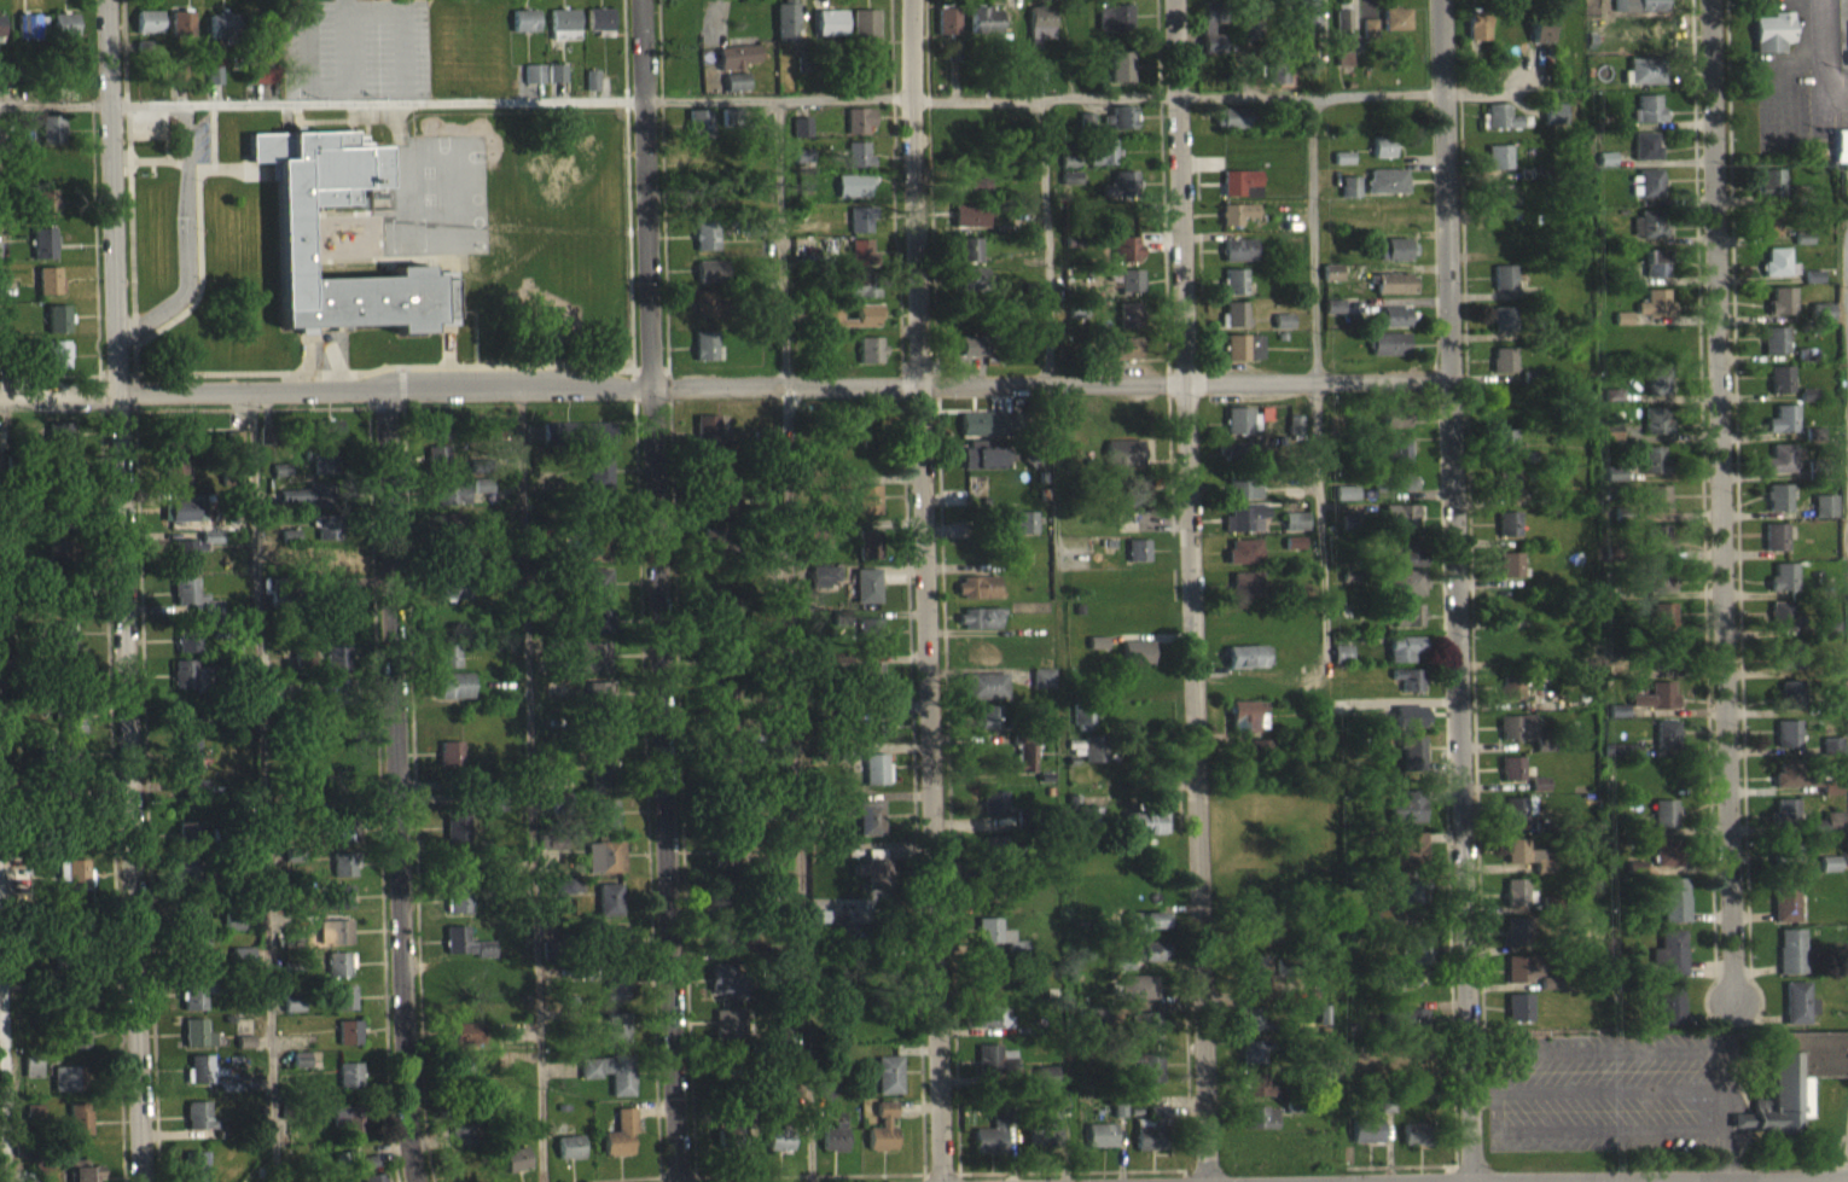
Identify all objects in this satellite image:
building: (1640, 12)
building: (1307, 27)
road: (400, 28)
building: (1118, 28)
building: (1395, 29)
building: (785, 30)
building: (984, 30)
building: (147, 31)
building: (524, 31)
building: (599, 31)
building: (947, 31)
building: (1041, 31)
building: (180, 33)
building: (830, 33)
building: (1248, 33)
building: (564, 34)
building: (63, 35)
building: (865, 35)
building: (0, 36)
building: (221, 36)
building: (1476, 36)
building: (29, 37)
building: (1211, 37)
building: (1368, 39)
building: (1539, 40)
building: (1772, 42)
building: (1343, 46)
parking lot: (353, 59)
building: (952, 62)
building: (737, 66)
building: (1121, 77)
building: (1278, 81)
building: (1644, 81)
building: (556, 83)
building: (178, 85)
building: (262, 85)
building: (533, 85)
building: (213, 86)
road: (325, 87)
building: (592, 91)
building: (736, 92)
road: (1176, 94)
road: (777, 98)
road: (53, 103)
road: (348, 120)
building: (1647, 120)
road: (296, 122)
building: (1552, 126)
road: (348, 127)
building: (1500, 127)
building: (1123, 128)
building: (1230, 128)
road: (327, 130)
parking lot: (147, 132)
building: (859, 132)
road: (296, 134)
building: (697, 134)
road: (211, 135)
building: (802, 138)
building: (51, 139)
parking lot: (198, 151)
building: (1382, 157)
building: (1645, 157)
building: (1841, 157)
road: (163, 158)
building: (1104, 163)
building: (859, 165)
building: (1498, 167)
road: (234, 168)
building: (1342, 168)
road: (129, 171)
building: (1387, 191)
building: (1238, 192)
building: (1769, 193)
building: (1646, 194)
building: (854, 196)
building: (1121, 196)
building: (967, 197)
building: (1349, 197)
road: (185, 202)
building: (1250, 202)
building: (1500, 206)
road: (197, 208)
building: (45, 212)
building: (1236, 223)
building: (970, 226)
building: (861, 231)
building: (1768, 233)
building: (1649, 235)
building: (705, 245)
building: (289, 246)
road: (779, 248)
road: (1045, 248)
building: (1802, 248)
building: (43, 254)
road: (198, 254)
building: (966, 260)
building: (1238, 260)
building: (1397, 260)
building: (1122, 261)
building: (861, 262)
road: (1847, 270)
building: (1778, 273)
building: (1656, 274)
building: (710, 283)
building: (1331, 283)
building: (1812, 286)
building: (1504, 287)
building: (969, 290)
building: (48, 291)
building: (1128, 292)
building: (1234, 292)
building: (1394, 293)
building: (862, 295)
road: (182, 311)
building: (1780, 313)
building: (705, 314)
building: (1655, 314)
building: (1332, 316)
building: (866, 322)
building: (1129, 325)
building: (1236, 325)
building: (1395, 326)
building: (1622, 328)
building: (57, 330)
building: (1501, 330)
building: (1283, 331)
building: (1774, 351)
building: (704, 355)
building: (1388, 355)
building: (967, 356)
building: (1243, 357)
road: (134, 359)
building: (1122, 359)
building: (870, 360)
building: (57, 365)
building: (1503, 369)
road: (117, 374)
road: (574, 375)
road: (667, 379)
road: (1314, 382)
building: (1780, 390)
road: (99, 391)
road: (134, 391)
building: (1658, 391)
road: (721, 397)
building: (1807, 404)
road: (117, 408)
building: (1394, 427)
building: (1783, 430)
building: (1242, 431)
building: (1657, 431)
building: (988, 433)
building: (436, 438)
building: (331, 441)
building: (550, 441)
building: (708, 442)
building: (179, 444)
building: (595, 444)
building: (59, 446)
building: (266, 446)
building: (1505, 450)
building: (978, 454)
building: (1236, 461)
building: (1399, 462)
building: (1123, 464)
building: (436, 467)
building: (982, 468)
building: (1780, 470)
building: (1652, 471)
building: (322, 473)
building: (711, 478)
building: (174, 481)
building: (599, 483)
building: (1614, 484)
building: (545, 487)
building: (842, 493)
building: (1507, 493)
building: (1401, 494)
building: (481, 496)
building: (1244, 497)
building: (1135, 500)
building: (449, 502)
building: (1346, 503)
building: (306, 506)
building: (1778, 508)
building: (867, 510)
building: (1658, 510)
road: (1731, 512)
building: (714, 516)
building: (1824, 517)
building: (186, 519)
building: (1400, 526)
building: (60, 528)
building: (1244, 529)
building: (1022, 531)
building: (1295, 531)
building: (1507, 534)
building: (326, 537)
building: (821, 543)
building: (1776, 547)
building: (1658, 549)
building: (715, 551)
building: (1294, 553)
building: (867, 554)
building: (597, 555)
building: (1138, 560)
building: (58, 563)
building: (1243, 563)
building: (1402, 564)
building: (324, 571)
building: (1510, 575)
building: (820, 587)
building: (1660, 588)
building: (1783, 588)
road: (122, 590)
road: (657, 590)
road: (920, 590)
road: (1189, 590)
road: (1449, 590)
building: (1406, 593)
building: (1245, 594)
building: (598, 595)
building: (865, 596)
building: (976, 598)
building: (453, 599)
building: (192, 606)
building: (63, 611)
building: (1407, 625)
building: (1663, 627)
building: (1785, 628)
building: (977, 629)
building: (598, 633)
building: (1829, 639)
building: (867, 644)
building: (63, 646)
building: (186, 647)
building: (1097, 653)
building: (1404, 658)
building: (975, 660)
building: (1135, 663)
building: (1341, 664)
building: (1664, 665)
building: (1789, 665)
building: (303, 666)
building: (447, 666)
building: (1248, 666)
building: (592, 668)
building: (337, 669)
building: (871, 685)
building: (190, 686)
building: (1041, 689)
building: (1408, 689)
building: (453, 695)
building: (1307, 695)
building: (984, 697)
building: (1511, 697)
building: (597, 704)
building: (1791, 705)
building: (1655, 708)
building: (1341, 717)
building: (1617, 721)
building: (1246, 726)
building: (1083, 727)
building: (1408, 727)
building: (987, 728)
building: (71, 732)
building: (779, 738)
building: (873, 738)
building: (1516, 738)
building: (1788, 744)
building: (1667, 745)
building: (599, 746)
building: (1831, 756)
building: (1094, 759)
building: (187, 763)
building: (1411, 763)
building: (69, 764)
building: (449, 764)
building: (1025, 769)
building: (1511, 779)
building: (874, 780)
road: (644, 781)
building: (600, 784)
road: (262, 786)
building: (1792, 786)
road: (795, 790)
road: (529, 791)
road: (395, 792)
building: (1539, 794)
building: (194, 796)
building: (993, 814)
building: (1406, 819)
building: (1518, 819)
building: (1664, 823)
building: (604, 825)
building: (1783, 826)
building: (1089, 828)
building: (870, 829)
building: (1150, 833)
building: (454, 835)
building: (188, 846)
building: (70, 852)
building: (994, 856)
building: (1407, 860)
building: (1667, 862)
building: (1526, 866)
building: (604, 868)
building: (343, 873)
building: (1829, 874)
building: (184, 878)
building: (1634, 879)
building: (874, 884)
building: (566, 897)
building: (1410, 897)
building: (1516, 903)
building: (608, 910)
building: (1674, 910)
building: (1784, 910)
building: (458, 912)
building: (193, 926)
building: (1146, 931)
building: (231, 933)
building: (1263, 939)
building: (341, 942)
building: (1517, 942)
building: (611, 947)
building: (994, 947)
building: (720, 953)
building: (465, 954)
building: (1149, 961)
building: (1416, 961)
building: (196, 962)
building: (1791, 962)
building: (1668, 965)
building: (338, 974)
building: (1521, 979)
building: (1255, 984)
building: (990, 985)
building: (731, 990)
building: (1548, 994)
building: (614, 996)
building: (1139, 997)
building: (194, 1006)
building: (77, 1007)
building: (343, 1008)
building: (291, 1013)
building: (1669, 1014)
building: (1796, 1014)
building: (1518, 1018)
building: (1087, 1026)
building: (987, 1029)
building: (1408, 1029)
building: (1253, 1030)
building: (728, 1033)
building: (1146, 1037)
building: (615, 1038)
building: (348, 1042)
building: (197, 1044)
building: (466, 1044)
building: (77, 1047)
road: (1606, 1048)
building: (1253, 1062)
road: (1722, 1067)
building: (993, 1070)
building: (300, 1071)
road: (1493, 1072)
building: (31, 1078)
building: (1150, 1078)
building: (609, 1083)
building: (209, 1084)
building: (349, 1085)
building: (888, 1085)
building: (1046, 1087)
building: (68, 1089)
road: (1609, 1089)
road: (2, 1091)
road: (1481, 1093)
building: (1257, 1096)
building: (825, 1100)
building: (1774, 1112)
building: (33, 1120)
building: (1260, 1128)
building: (348, 1129)
road: (1592, 1129)
building: (79, 1130)
building: (1047, 1130)
road: (1726, 1134)
building: (882, 1140)
building: (1150, 1141)
building: (1366, 1141)
building: (620, 1145)
building: (1414, 1145)
building: (460, 1146)
building: (1099, 1146)
building: (990, 1147)
building: (833, 1148)
building: (779, 1151)
building: (569, 1158)
building: (515, 1170)
building: (196, 1172)
building: (367, 1172)
building: (81, 1176)
road: (1468, 1181)
road: (1809, 1181)

